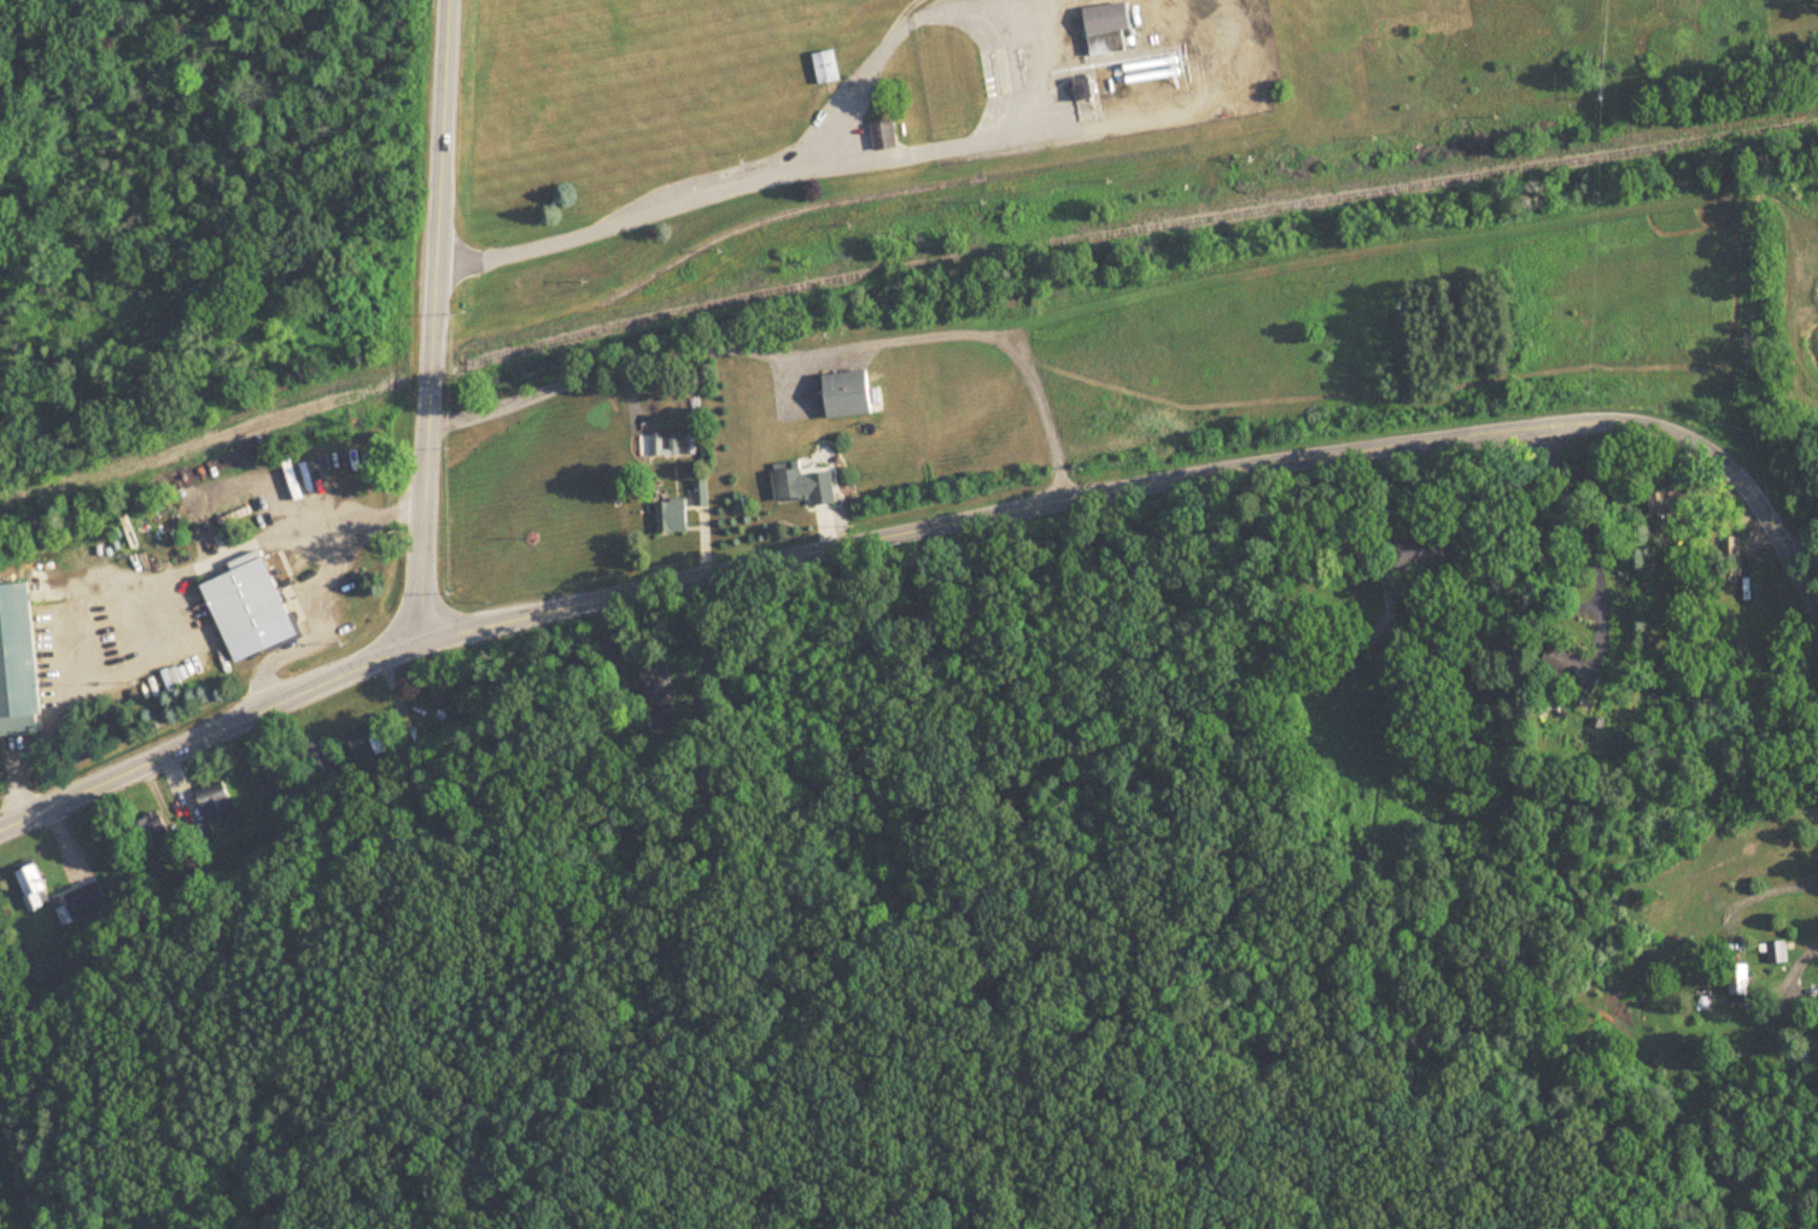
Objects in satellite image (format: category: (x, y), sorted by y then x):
road: (937, 7)
road: (894, 17)
building: (1103, 28)
building: (822, 66)
building: (1076, 88)
road: (1051, 124)
building: (879, 135)
road: (690, 197)
road: (433, 322)
road: (1010, 351)
building: (840, 396)
road: (1158, 484)
building: (797, 486)
building: (1665, 502)
building: (671, 517)
road: (1582, 526)
road: (1801, 546)
building: (1414, 550)
building: (1731, 556)
road: (1509, 561)
road: (160, 595)
building: (253, 608)
road: (305, 627)
building: (19, 662)
building: (1566, 665)
building: (655, 691)
road: (209, 735)
building: (347, 751)
building: (220, 807)
building: (157, 838)
building: (36, 888)
building: (89, 901)
building: (1775, 953)
road: (1804, 960)
building: (1735, 983)

